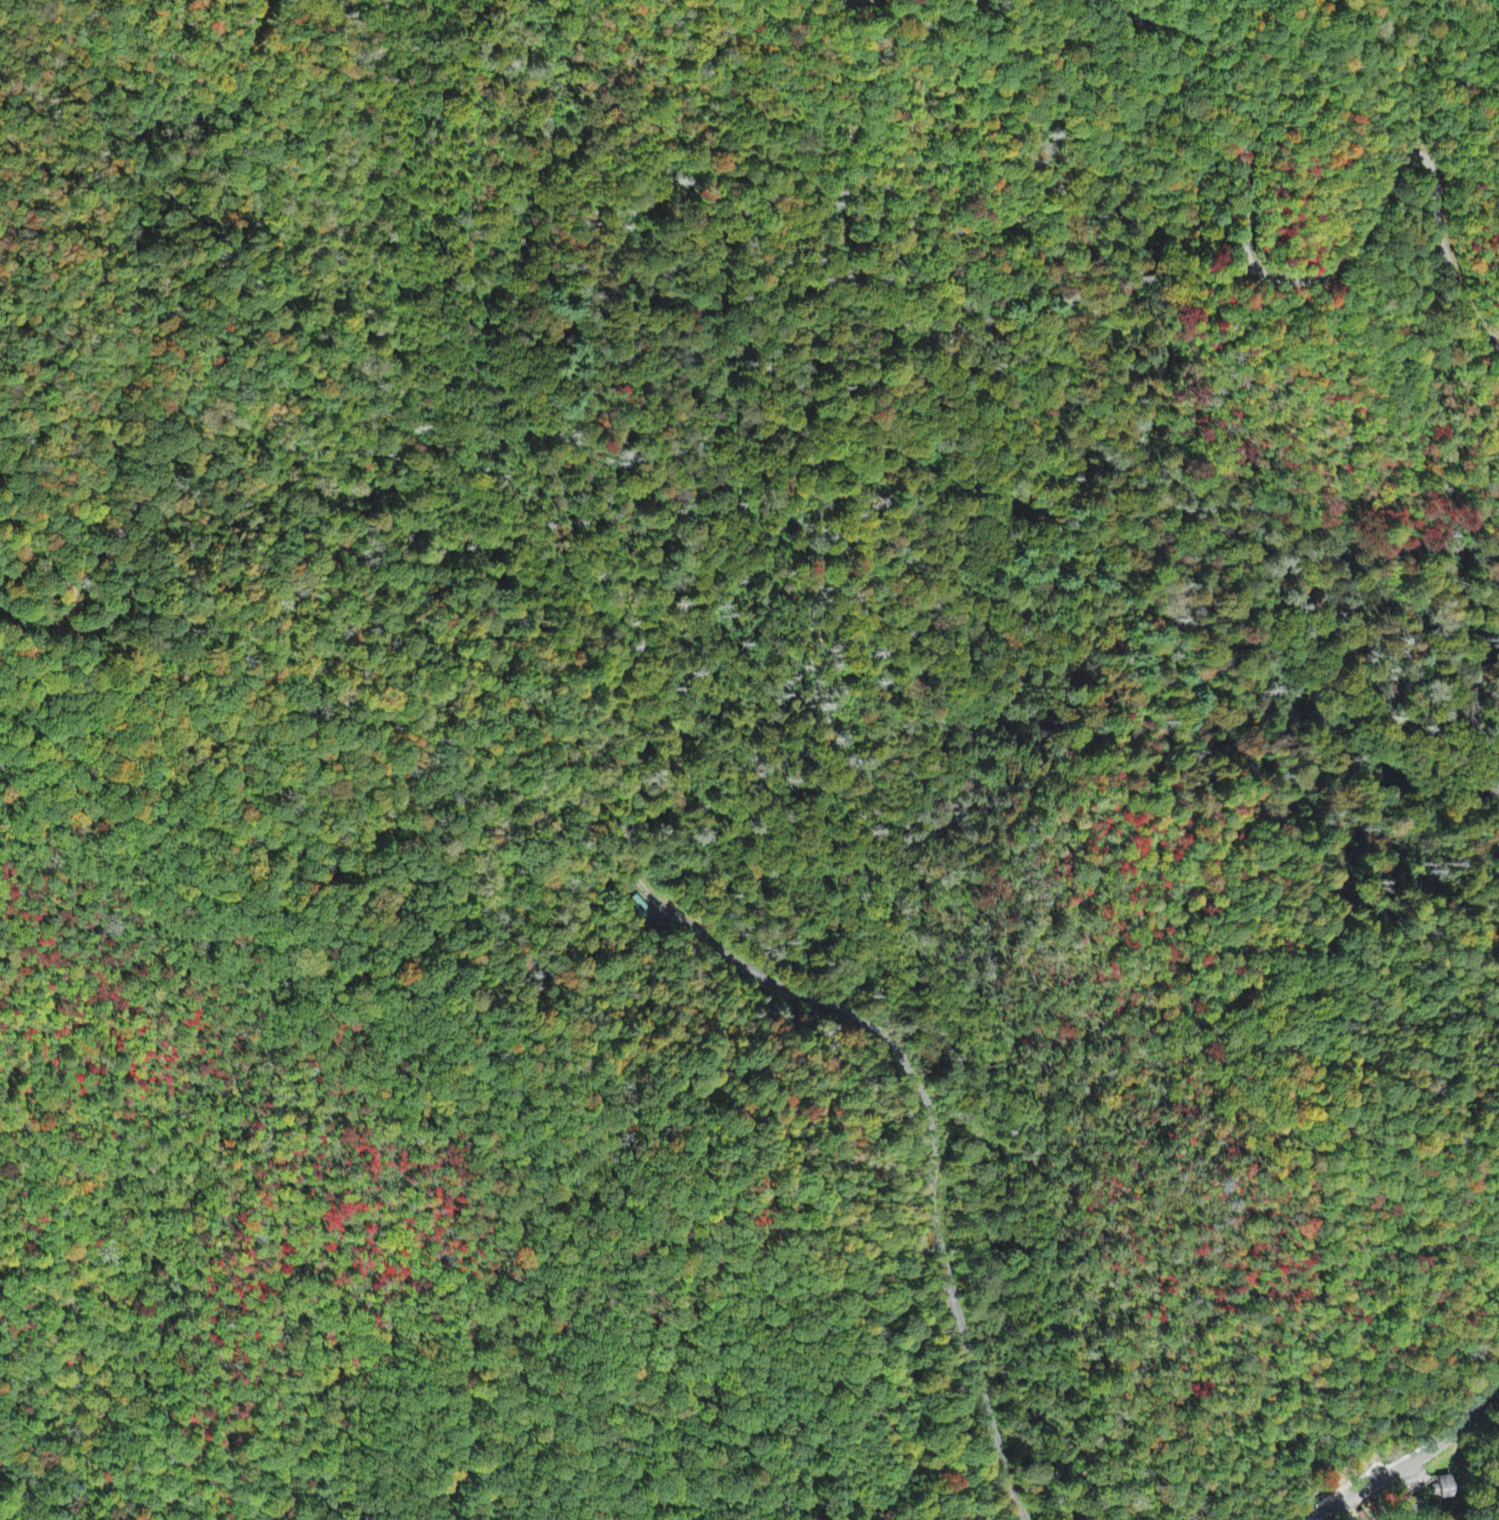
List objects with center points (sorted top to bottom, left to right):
road: (1297, 282)
road: (140, 337)
road: (932, 1151)
road: (1417, 1459)

